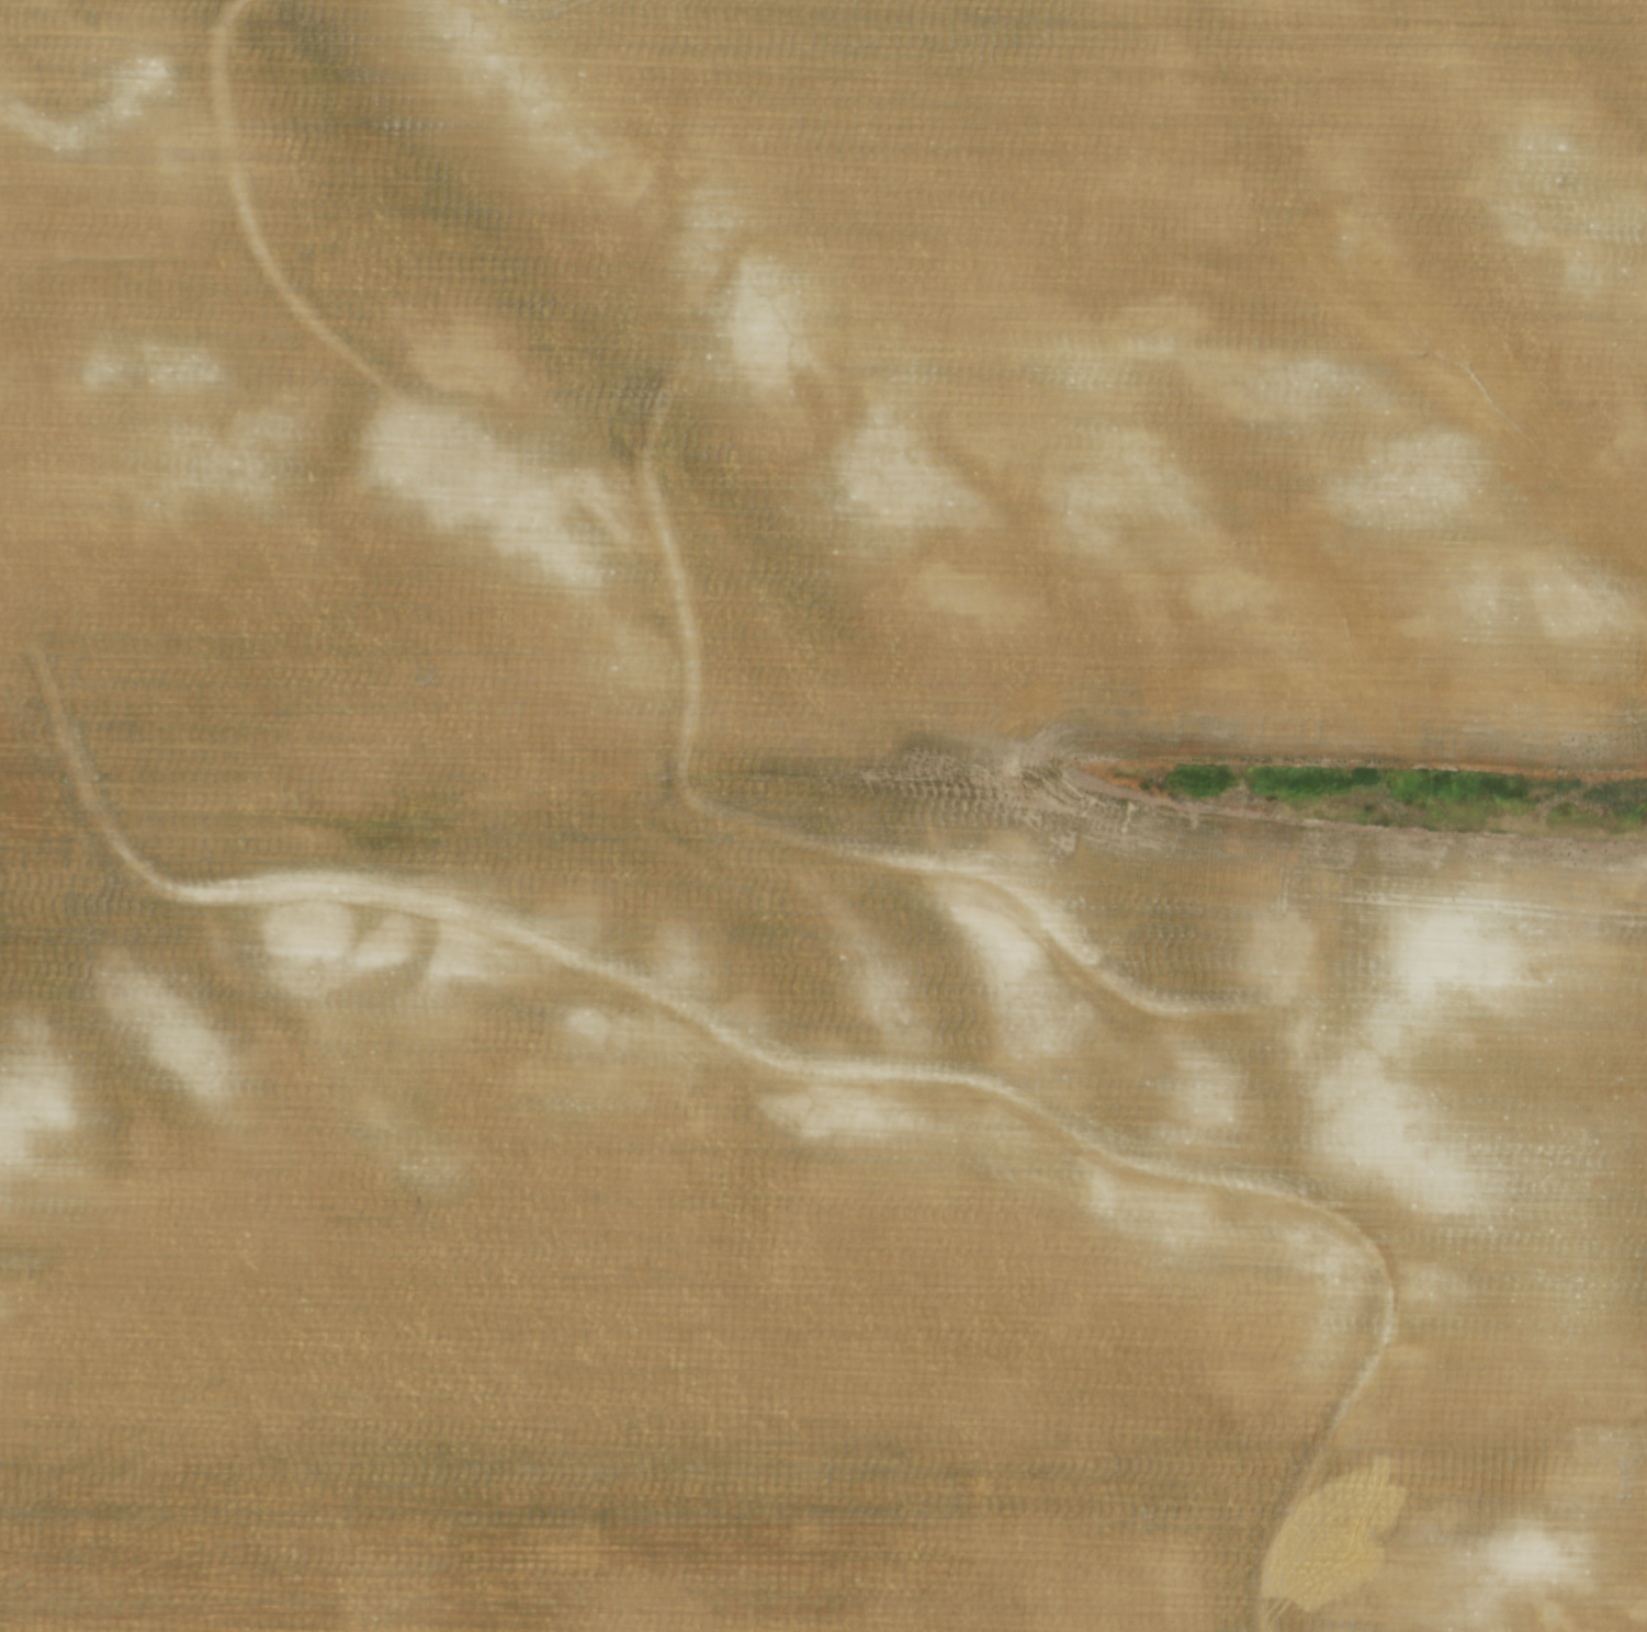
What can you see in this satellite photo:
crop: (815, 816)

